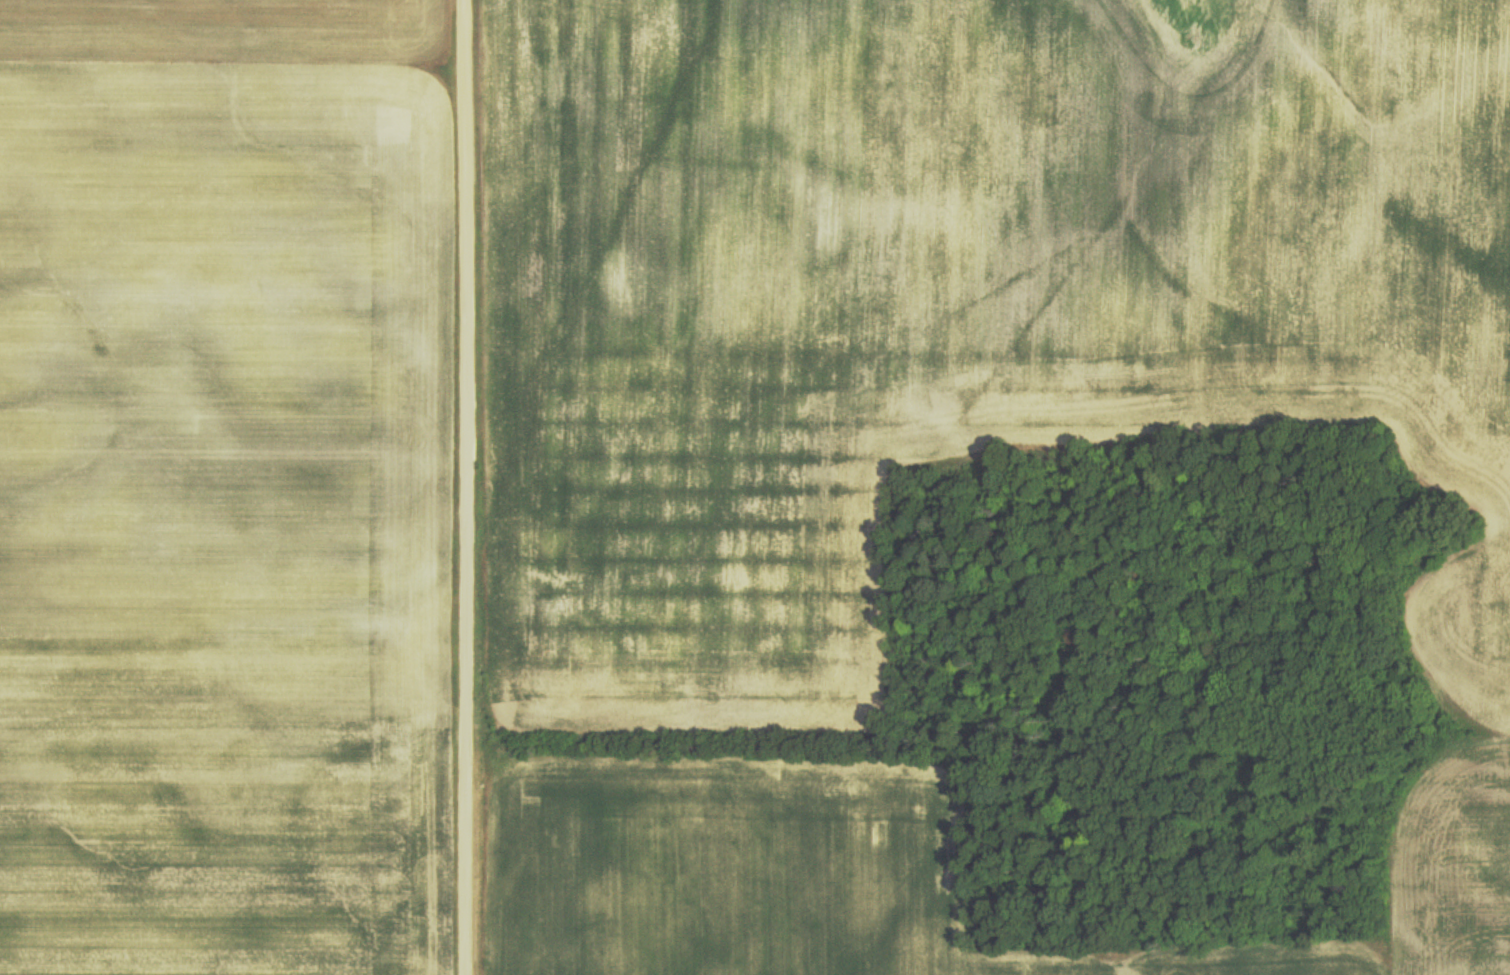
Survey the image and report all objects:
crop: (222, 32)
crop: (962, 306)
road: (469, 487)
crop: (224, 520)
crop: (1450, 867)
crop: (773, 881)

